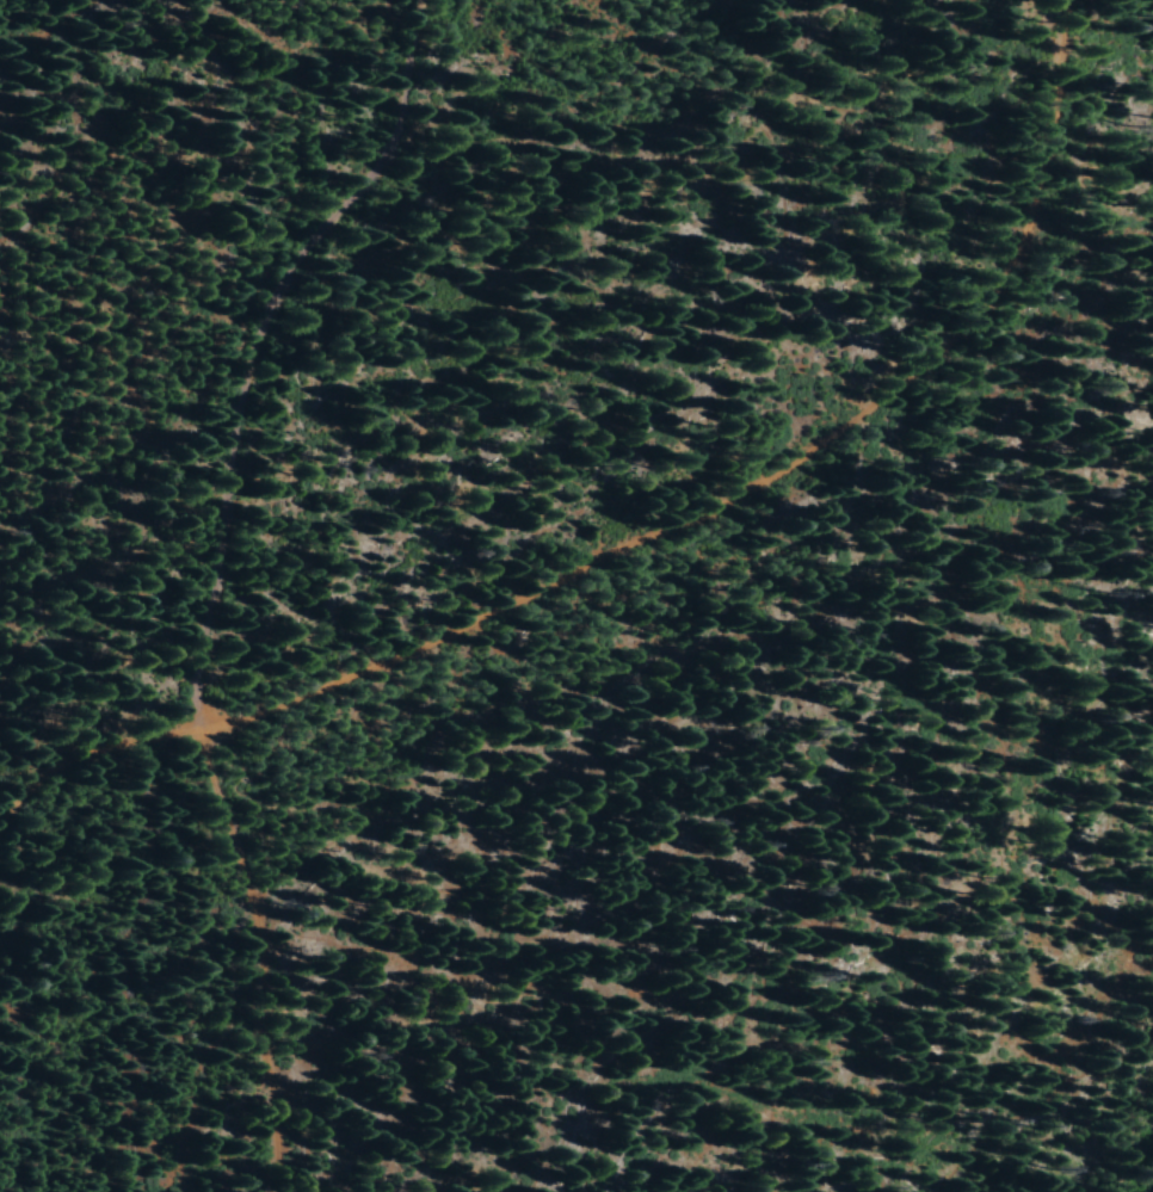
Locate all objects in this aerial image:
road: (286, 409)
road: (1, 459)
road: (679, 573)
road: (189, 663)

